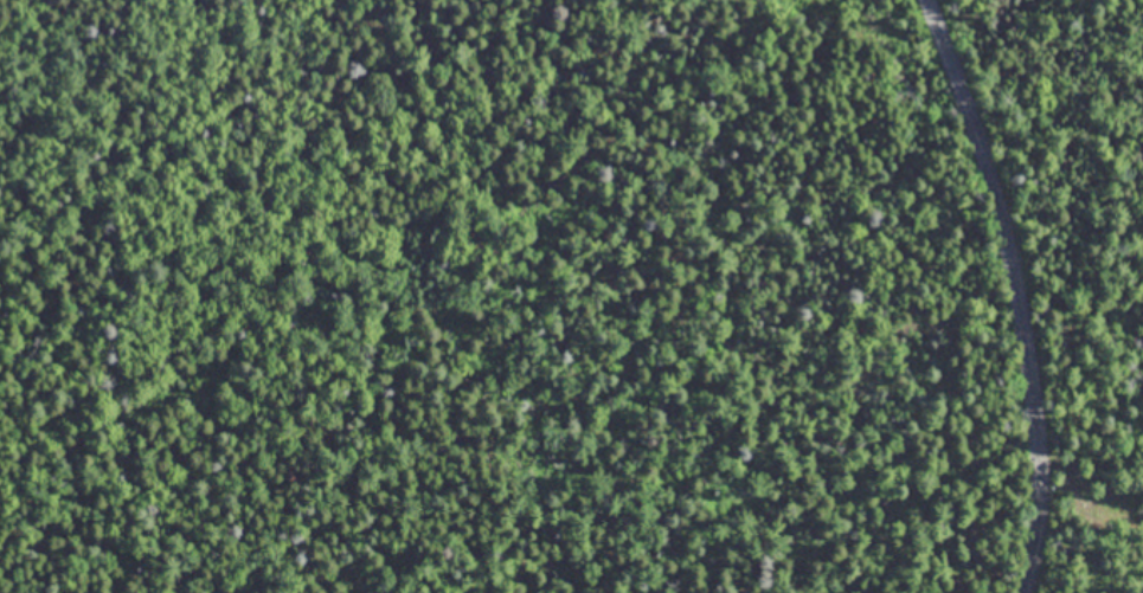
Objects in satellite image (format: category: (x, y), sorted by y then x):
road: (1019, 290)

